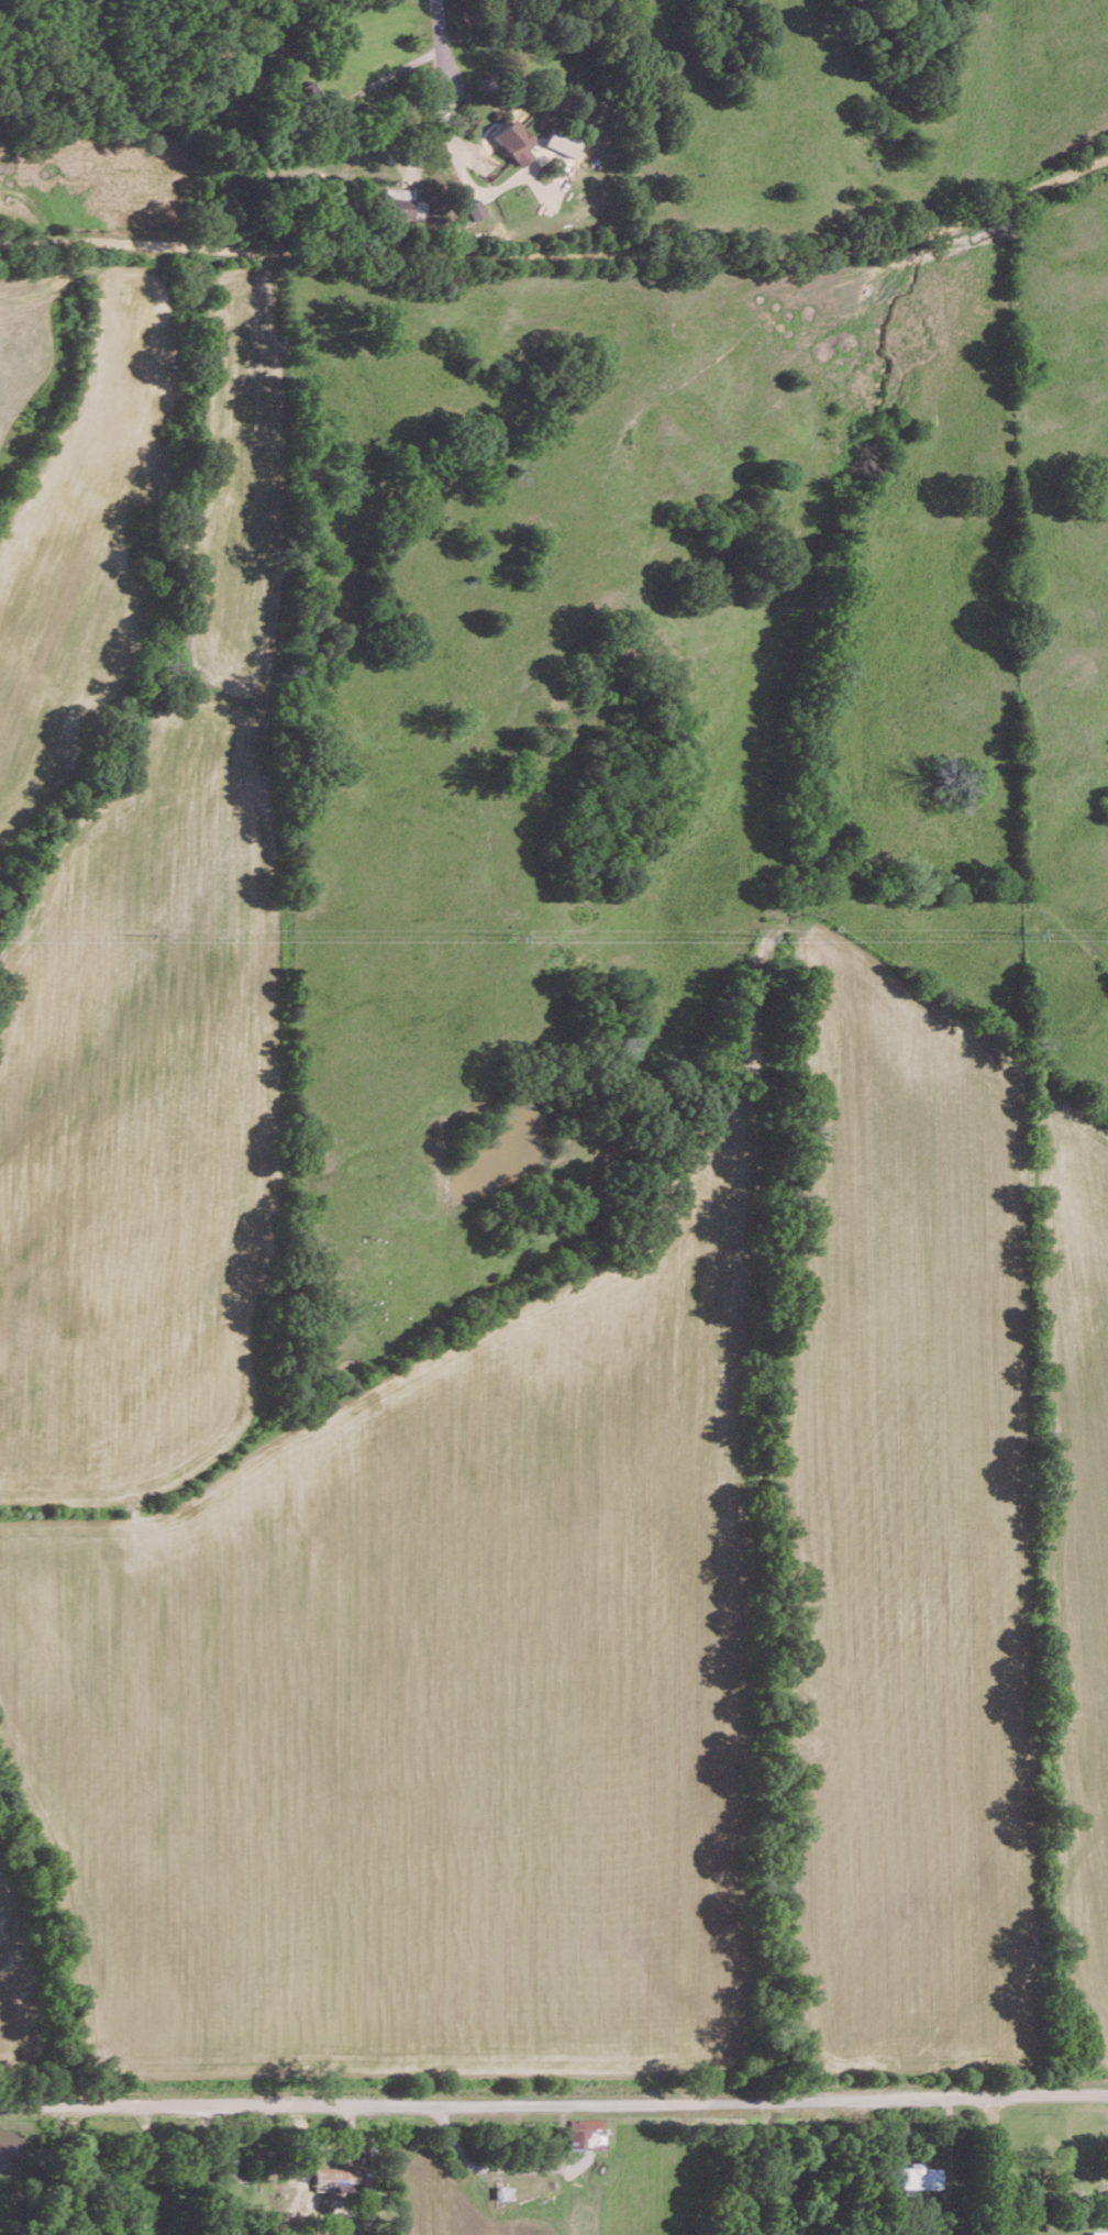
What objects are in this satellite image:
road: (437, 45)
building: (561, 141)
building: (517, 144)
building: (601, 193)
building: (395, 206)
building: (474, 208)
road: (561, 255)
road: (553, 2096)
building: (587, 2132)
building: (335, 2177)
building: (915, 2177)

